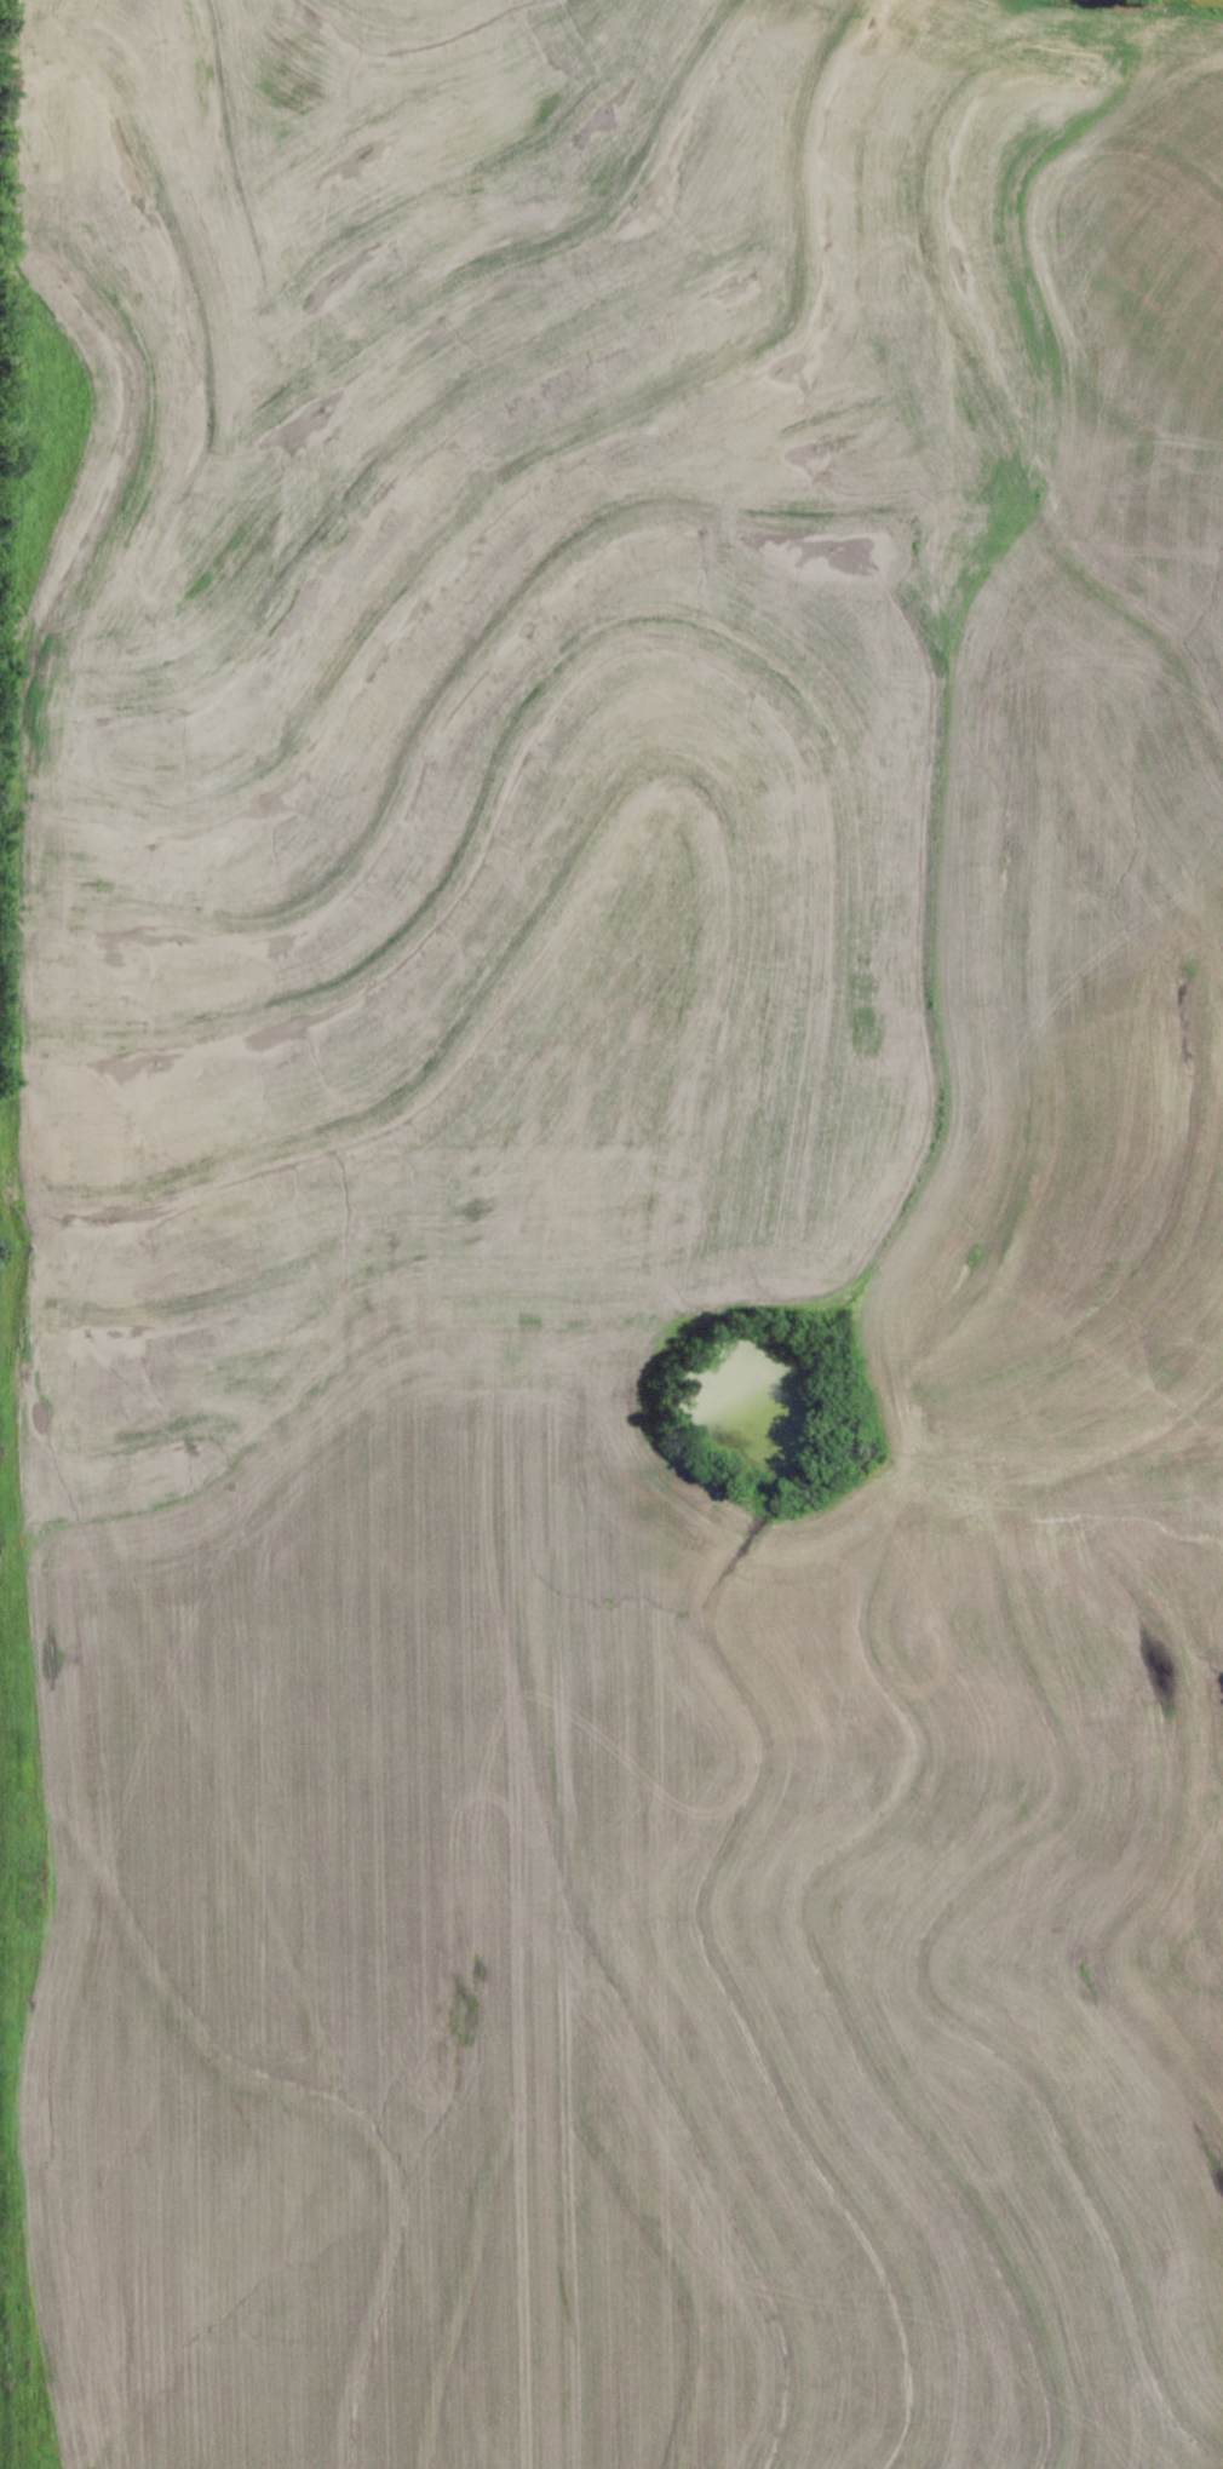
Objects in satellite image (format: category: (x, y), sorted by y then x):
road: (1127, 6)

